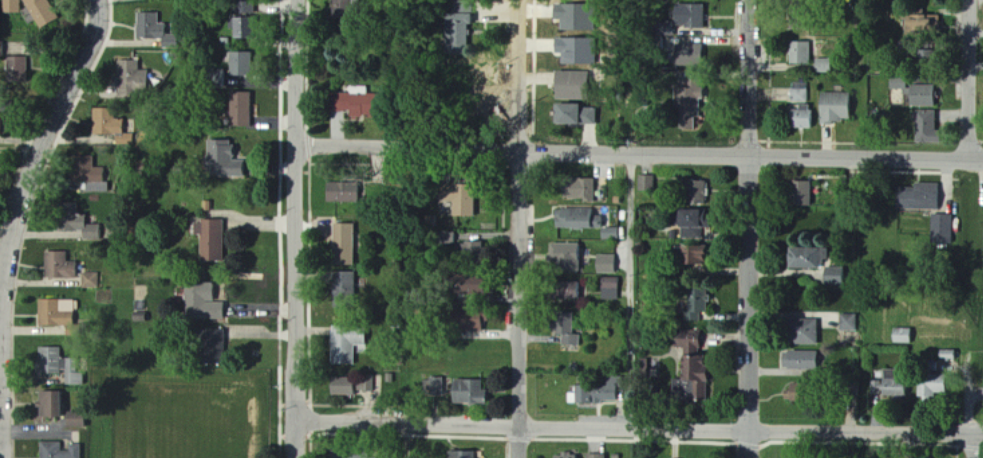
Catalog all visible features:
building: (800, 2)
building: (11, 5)
building: (243, 6)
building: (39, 7)
building: (351, 9)
building: (691, 16)
building: (800, 19)
building: (918, 23)
building: (666, 28)
building: (154, 29)
building: (250, 29)
building: (459, 35)
building: (2, 46)
building: (800, 53)
building: (690, 54)
building: (918, 56)
road: (518, 60)
building: (245, 65)
building: (824, 65)
building: (16, 67)
road: (975, 76)
building: (131, 80)
building: (572, 83)
building: (899, 84)
building: (799, 92)
building: (923, 96)
building: (688, 100)
building: (371, 106)
building: (5, 108)
building: (835, 108)
building: (245, 111)
building: (574, 113)
building: (801, 118)
building: (2, 124)
building: (110, 124)
building: (927, 128)
road: (639, 150)
building: (229, 162)
building: (88, 172)
building: (647, 181)
building: (579, 187)
building: (698, 189)
building: (802, 192)
building: (347, 193)
building: (919, 195)
building: (459, 196)
building: (577, 217)
building: (690, 217)
road: (18, 220)
building: (76, 221)
building: (942, 227)
road: (297, 228)
road: (753, 228)
building: (610, 231)
building: (675, 233)
building: (219, 241)
building: (639, 241)
building: (349, 246)
building: (471, 251)
building: (689, 252)
building: (808, 255)
building: (563, 256)
building: (605, 262)
building: (59, 264)
building: (835, 274)
building: (91, 279)
building: (609, 287)
building: (346, 288)
building: (564, 289)
road: (630, 290)
building: (698, 300)
road: (521, 303)
building: (210, 306)
building: (55, 313)
building: (466, 316)
building: (849, 321)
building: (565, 327)
building: (803, 330)
building: (902, 334)
building: (350, 344)
building: (948, 353)
building: (50, 359)
building: (801, 359)
building: (929, 365)
building: (74, 371)
building: (698, 372)
building: (391, 379)
building: (891, 383)
building: (437, 384)
building: (932, 384)
building: (851, 386)
building: (370, 388)
building: (346, 390)
building: (600, 390)
building: (469, 391)
building: (802, 391)
building: (54, 407)
building: (81, 421)
road: (525, 427)
road: (867, 435)
road: (975, 447)
building: (63, 450)
building: (466, 454)
building: (357, 455)
building: (567, 455)
building: (596, 455)

